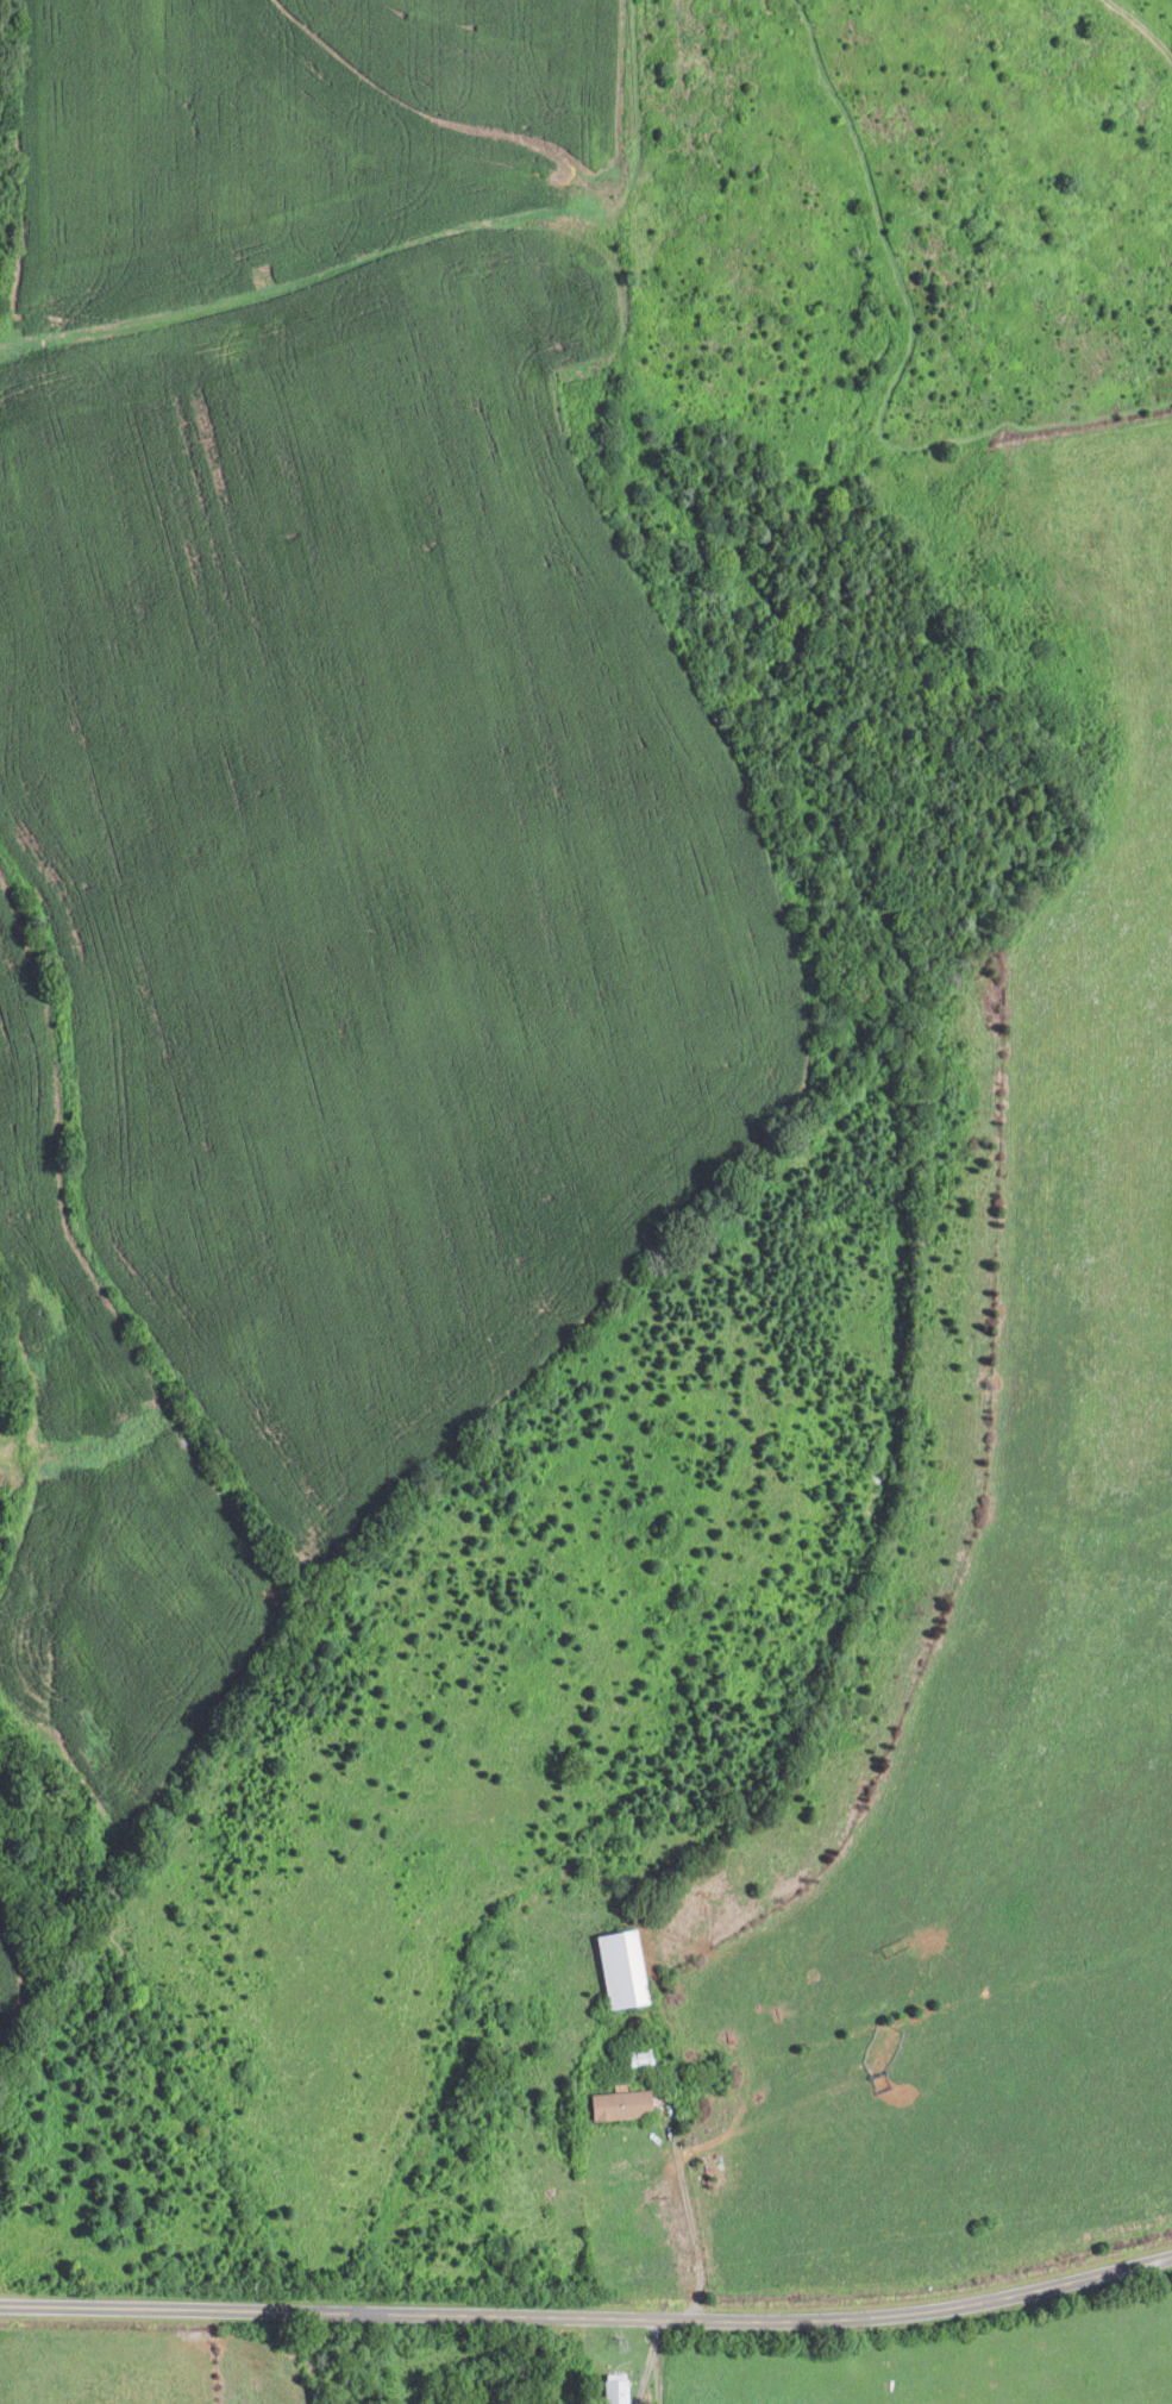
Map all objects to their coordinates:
building: (618, 1970)
building: (635, 2059)
building: (616, 2105)
road: (695, 2218)
road: (589, 2318)
road: (650, 2361)
building: (613, 2391)

